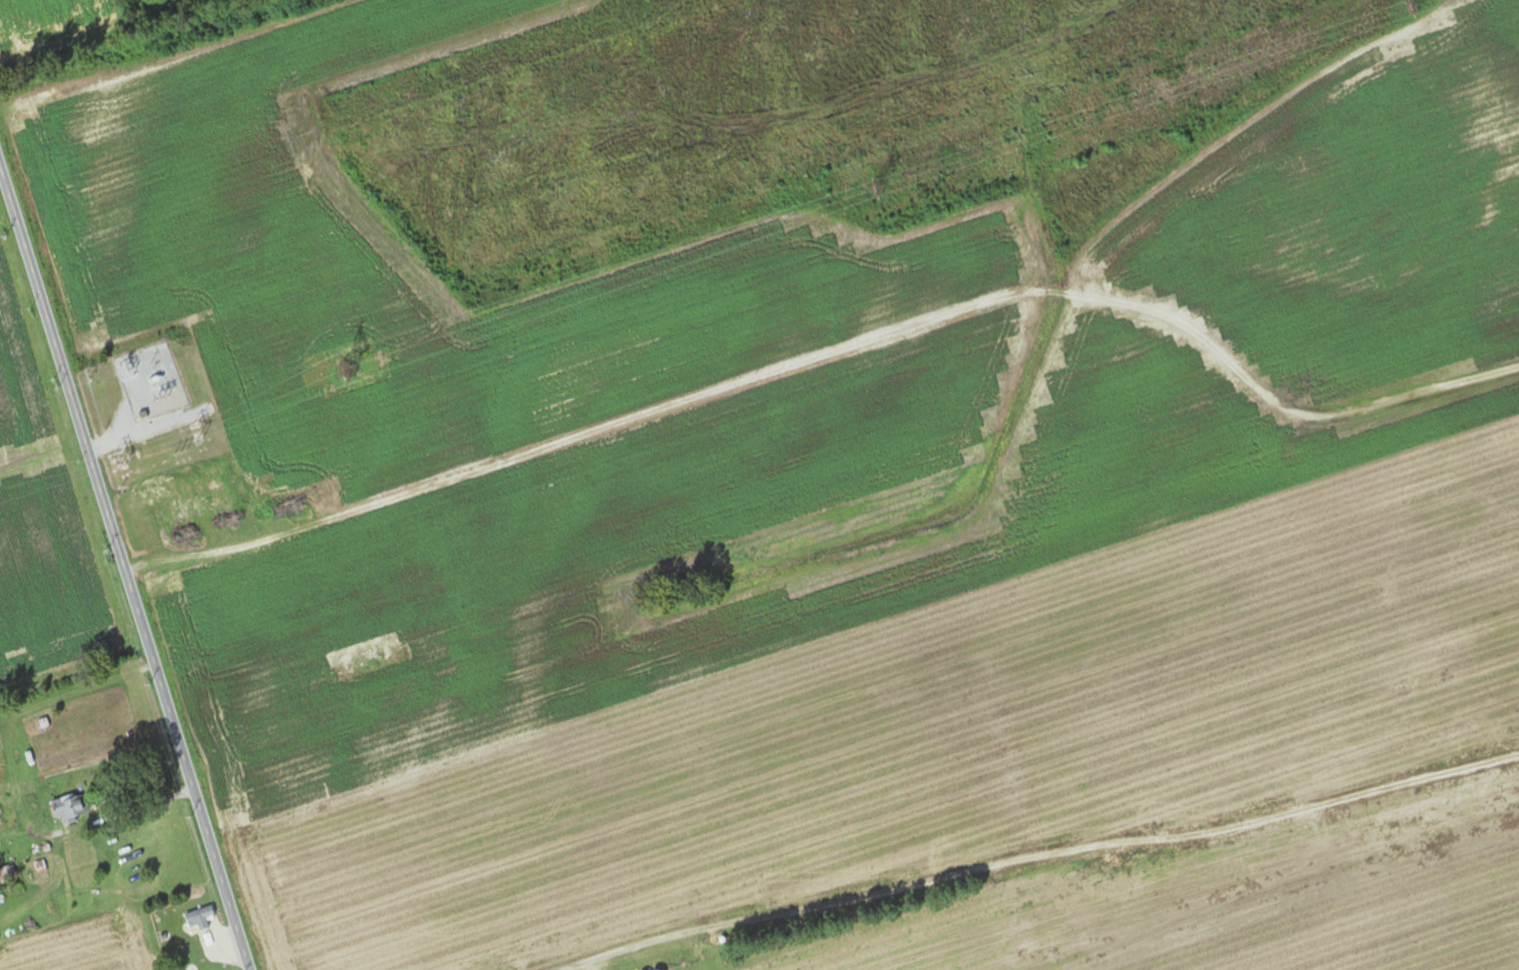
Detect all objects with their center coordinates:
power tower: (338, 366)
power substation: (142, 382)
road: (123, 568)
road: (134, 807)
building: (66, 811)
building: (197, 919)
road: (570, 963)

